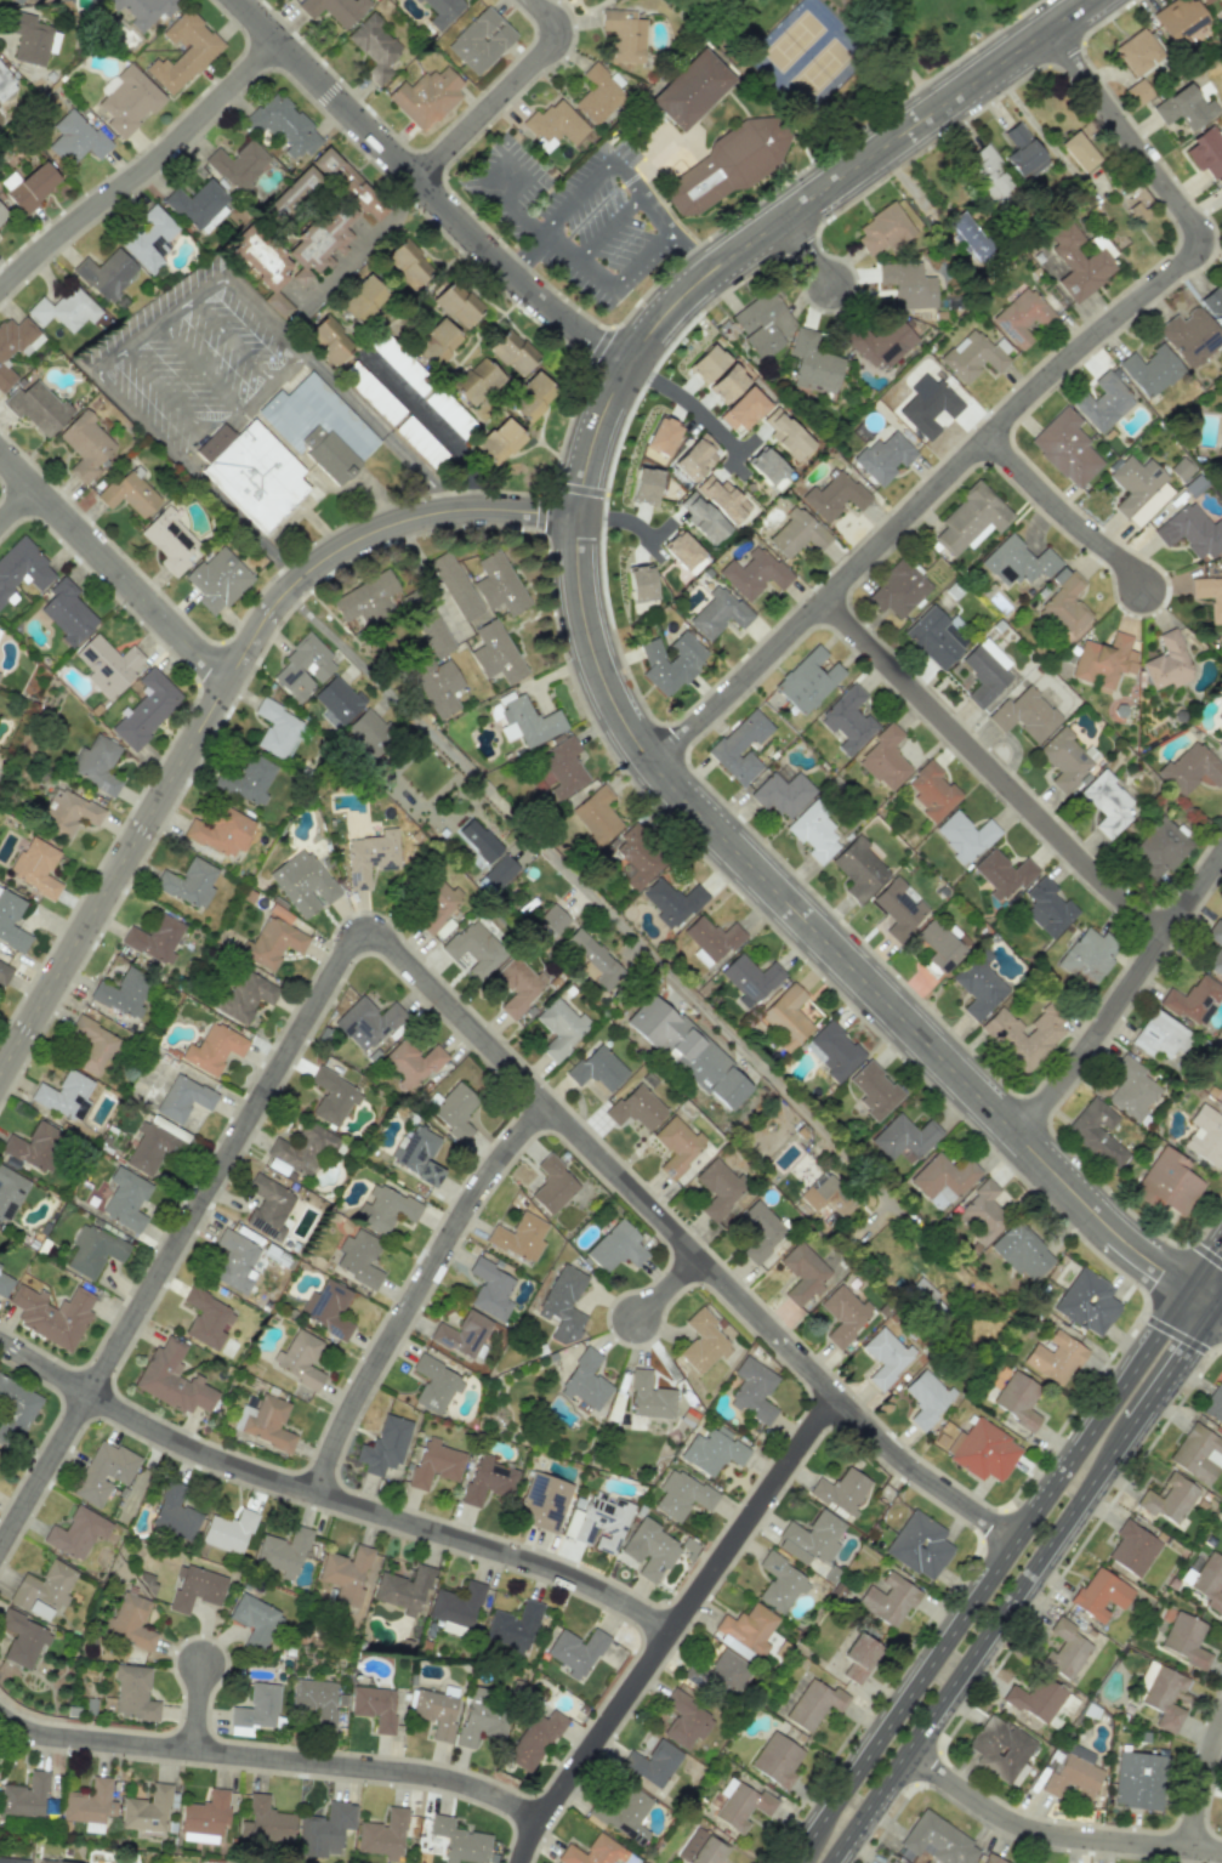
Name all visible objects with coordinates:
building: (17, 1)
building: (1205, 1)
park: (686, 4)
building: (142, 10)
building: (334, 10)
building: (441, 11)
road: (1053, 12)
building: (1177, 18)
building: (623, 35)
building: (32, 38)
building: (481, 40)
park: (792, 40)
building: (374, 46)
building: (183, 52)
park: (841, 52)
building: (1137, 52)
road: (900, 57)
park: (819, 68)
building: (5, 84)
building: (689, 90)
road: (502, 93)
building: (598, 93)
building: (426, 96)
building: (129, 101)
building: (1183, 107)
building: (555, 123)
building: (283, 125)
building: (75, 138)
building: (1078, 150)
building: (1022, 152)
building: (1206, 152)
building: (238, 165)
building: (727, 165)
road: (517, 167)
road: (493, 171)
road: (144, 174)
building: (988, 174)
building: (1221, 182)
building: (29, 186)
road: (428, 191)
road: (517, 192)
road: (640, 193)
road: (491, 194)
road: (575, 198)
building: (198, 205)
building: (2, 214)
road: (522, 221)
road: (608, 228)
building: (882, 231)
building: (308, 234)
building: (968, 235)
building: (148, 239)
road: (360, 248)
road: (693, 251)
road: (525, 254)
road: (812, 255)
road: (641, 260)
building: (1079, 262)
building: (405, 263)
road: (575, 263)
building: (106, 274)
building: (908, 285)
road: (203, 292)
building: (362, 300)
building: (456, 303)
building: (1212, 305)
building: (64, 309)
building: (1022, 317)
building: (762, 323)
building: (1189, 336)
building: (328, 340)
road: (232, 342)
building: (882, 342)
building: (436, 343)
building: (15, 345)
building: (512, 353)
building: (973, 356)
building: (812, 362)
building: (706, 363)
building: (400, 364)
road: (203, 367)
building: (1150, 370)
building: (476, 381)
building: (727, 384)
road: (164, 391)
building: (371, 392)
building: (530, 397)
building: (1102, 402)
road: (692, 405)
building: (36, 407)
road: (1013, 407)
building: (928, 409)
building: (743, 410)
building: (448, 411)
road: (138, 414)
road: (240, 414)
road: (431, 425)
building: (318, 427)
road: (376, 431)
building: (786, 434)
building: (661, 436)
building: (420, 442)
building: (499, 442)
building: (86, 444)
building: (1065, 448)
building: (695, 456)
building: (883, 456)
building: (765, 465)
building: (251, 472)
building: (644, 485)
building: (1137, 488)
building: (129, 493)
building: (834, 495)
building: (721, 499)
road: (19, 509)
road: (1065, 513)
building: (701, 518)
building: (970, 519)
building: (1190, 532)
building: (796, 533)
building: (169, 540)
building: (681, 550)
building: (1017, 561)
road: (113, 564)
building: (22, 569)
building: (754, 573)
building: (217, 580)
building: (641, 583)
building: (478, 585)
building: (898, 589)
building: (1209, 596)
building: (365, 598)
building: (1065, 604)
building: (67, 612)
building: (718, 613)
building: (432, 632)
building: (936, 636)
road: (593, 646)
building: (495, 653)
building: (670, 661)
building: (1103, 661)
building: (1167, 663)
building: (108, 664)
building: (302, 669)
building: (807, 681)
building: (437, 685)
road: (218, 693)
building: (337, 699)
building: (146, 708)
building: (1024, 714)
building: (1218, 717)
building: (527, 721)
building: (277, 729)
building: (368, 732)
building: (739, 746)
building: (883, 759)
building: (1065, 759)
building: (96, 762)
building: (561, 767)
road: (998, 768)
building: (1190, 768)
building: (248, 780)
building: (931, 791)
building: (780, 794)
building: (1107, 803)
building: (70, 813)
building: (596, 814)
building: (221, 831)
building: (813, 833)
building: (964, 835)
building: (478, 840)
building: (1159, 847)
building: (370, 857)
building: (636, 858)
building: (35, 868)
building: (859, 869)
building: (499, 871)
building: (1002, 873)
building: (188, 882)
building: (302, 882)
building: (671, 902)
building: (434, 904)
building: (898, 908)
building: (1046, 908)
building: (1221, 915)
building: (553, 919)
building: (11, 921)
building: (155, 939)
building: (272, 939)
building: (709, 939)
building: (937, 947)
building: (474, 948)
road: (644, 954)
building: (1216, 955)
building: (1087, 956)
building: (593, 958)
building: (4, 973)
building: (749, 978)
building: (517, 984)
building: (978, 984)
building: (123, 993)
building: (241, 996)
road: (1122, 1000)
building: (1193, 1000)
building: (785, 1017)
building: (366, 1022)
building: (559, 1027)
building: (1024, 1035)
building: (1160, 1035)
building: (92, 1046)
building: (212, 1049)
road: (496, 1051)
building: (687, 1051)
building: (832, 1051)
building: (410, 1063)
building: (597, 1068)
building: (1221, 1068)
building: (1131, 1089)
building: (874, 1091)
building: (64, 1095)
building: (333, 1096)
building: (183, 1098)
building: (636, 1108)
building: (454, 1111)
building: (1097, 1132)
building: (1205, 1135)
building: (676, 1145)
building: (35, 1146)
building: (152, 1148)
building: (303, 1148)
building: (416, 1154)
building: (942, 1177)
building: (1167, 1183)
building: (552, 1186)
building: (717, 1188)
building: (8, 1192)
building: (825, 1195)
building: (125, 1199)
building: (268, 1206)
building: (383, 1209)
building: (981, 1212)
building: (757, 1231)
building: (519, 1237)
building: (615, 1246)
building: (93, 1250)
building: (1021, 1251)
road: (1207, 1251)
building: (358, 1259)
road: (1204, 1260)
building: (233, 1261)
building: (802, 1273)
building: (5, 1283)
building: (490, 1289)
road: (421, 1291)
road: (672, 1291)
road: (1200, 1295)
road: (1218, 1300)
building: (1086, 1302)
building: (563, 1303)
building: (328, 1308)
road: (1218, 1308)
building: (842, 1313)
building: (52, 1314)
building: (206, 1318)
road: (1203, 1323)
road: (1165, 1328)
building: (462, 1334)
building: (701, 1342)
road: (1200, 1347)
building: (885, 1357)
building: (1053, 1357)
building: (299, 1358)
building: (172, 1380)
building: (586, 1381)
road: (1160, 1382)
building: (434, 1385)
building: (752, 1390)
building: (648, 1396)
building: (926, 1397)
building: (1017, 1398)
building: (1214, 1404)
building: (15, 1408)
road: (1101, 1412)
building: (266, 1422)
building: (383, 1445)
building: (983, 1450)
building: (712, 1452)
building: (1198, 1453)
building: (436, 1462)
building: (103, 1472)
road: (45, 1473)
building: (488, 1479)
building: (840, 1490)
building: (681, 1494)
road: (331, 1498)
building: (1169, 1498)
building: (542, 1501)
building: (174, 1515)
building: (228, 1532)
building: (76, 1533)
building: (811, 1539)
building: (919, 1545)
building: (1132, 1549)
building: (649, 1550)
building: (282, 1552)
building: (345, 1574)
building: (1209, 1581)
building: (779, 1583)
building: (195, 1587)
building: (42, 1589)
road: (1018, 1589)
building: (403, 1590)
building: (1099, 1595)
building: (887, 1600)
building: (456, 1604)
building: (254, 1620)
building: (131, 1621)
building: (513, 1626)
road: (676, 1626)
building: (745, 1630)
building: (23, 1638)
building: (1184, 1640)
building: (1064, 1649)
building: (575, 1652)
building: (857, 1657)
building: (722, 1674)
building: (132, 1693)
road: (904, 1697)
building: (1038, 1697)
building: (1164, 1698)
building: (813, 1704)
building: (374, 1706)
building: (257, 1708)
road: (199, 1709)
building: (434, 1713)
building: (481, 1717)
building: (684, 1720)
building: (534, 1740)
building: (1000, 1748)
road: (273, 1760)
building: (775, 1760)
building: (650, 1763)
building: (1073, 1774)
building: (1138, 1780)
road: (1204, 1790)
building: (24, 1796)
building: (89, 1805)
building: (743, 1806)
road: (868, 1807)
building: (146, 1810)
building: (624, 1813)
building: (204, 1818)
building: (265, 1823)
building: (324, 1830)
road: (1052, 1834)
building: (382, 1835)
building: (459, 1841)
building: (936, 1842)
building: (700, 1848)
building: (593, 1852)
road: (792, 1859)
building: (990, 1859)
building: (55, 1862)
building: (888, 1862)

